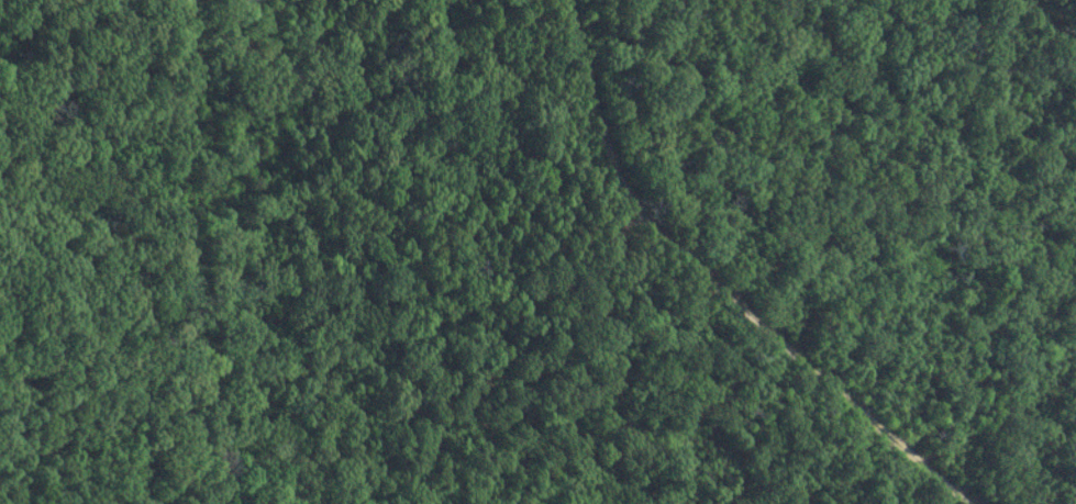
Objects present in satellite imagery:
road: (731, 282)

